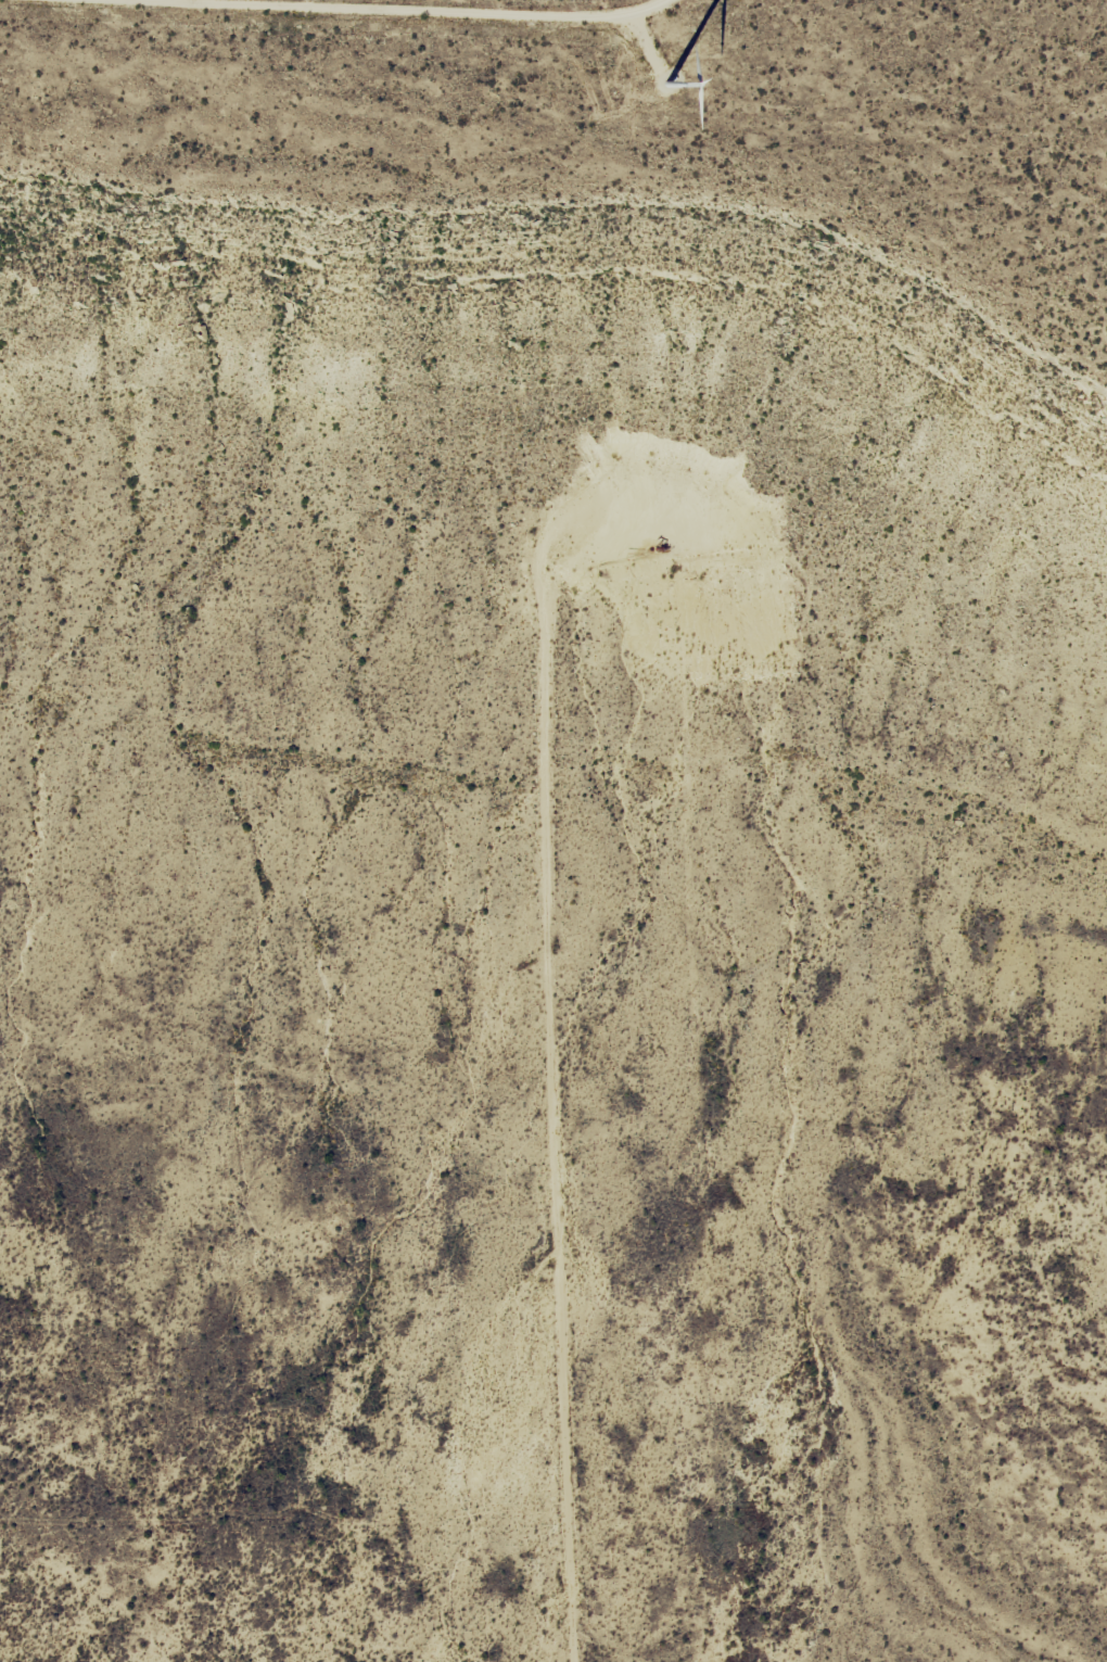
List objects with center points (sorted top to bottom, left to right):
wind turbine: (669, 67)

